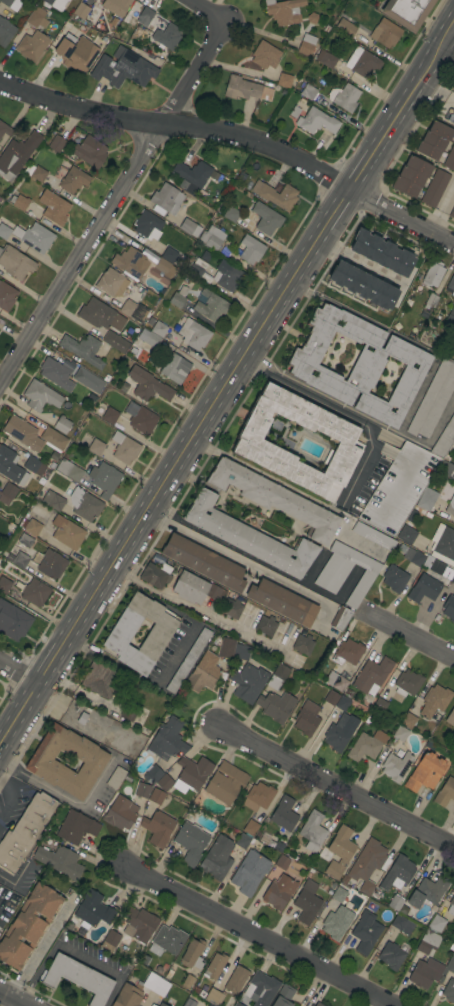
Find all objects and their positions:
building: (11, 4)
building: (54, 4)
building: (116, 6)
road: (215, 10)
building: (284, 11)
building: (79, 12)
building: (407, 12)
building: (145, 15)
building: (37, 18)
building: (312, 18)
building: (113, 21)
road: (453, 26)
building: (345, 27)
building: (70, 30)
building: (5, 31)
building: (385, 33)
building: (167, 35)
building: (306, 44)
building: (32, 45)
building: (76, 53)
building: (265, 55)
building: (325, 58)
building: (362, 62)
building: (123, 68)
building: (284, 80)
building: (245, 89)
building: (308, 91)
road: (435, 92)
building: (453, 92)
building: (346, 97)
building: (321, 101)
building: (294, 111)
building: (451, 117)
building: (317, 121)
building: (5, 129)
road: (237, 132)
building: (434, 140)
building: (56, 143)
building: (89, 151)
building: (17, 154)
building: (450, 159)
building: (35, 172)
building: (59, 173)
building: (192, 175)
building: (411, 176)
building: (73, 180)
building: (182, 184)
building: (435, 188)
building: (276, 195)
building: (212, 198)
building: (166, 199)
road: (117, 201)
building: (19, 202)
building: (53, 207)
road: (442, 210)
building: (451, 213)
building: (231, 214)
building: (266, 218)
building: (147, 225)
building: (189, 227)
building: (5, 228)
building: (34, 237)
building: (212, 238)
building: (250, 249)
building: (224, 252)
building: (382, 252)
building: (204, 255)
building: (151, 257)
building: (177, 261)
building: (15, 262)
building: (130, 262)
building: (164, 266)
building: (202, 271)
building: (433, 273)
building: (229, 275)
building: (111, 282)
building: (363, 285)
building: (450, 285)
building: (6, 296)
building: (178, 297)
building: (431, 300)
building: (116, 302)
building: (210, 305)
building: (133, 310)
building: (100, 315)
building: (449, 319)
building: (158, 328)
building: (193, 334)
building: (149, 338)
building: (115, 341)
building: (83, 349)
building: (452, 355)
building: (67, 364)
building: (359, 364)
building: (175, 368)
building: (55, 374)
building: (105, 377)
building: (88, 380)
building: (148, 385)
road: (225, 386)
building: (124, 388)
building: (40, 396)
building: (92, 397)
building: (433, 399)
road: (344, 411)
building: (110, 415)
building: (140, 418)
building: (34, 422)
building: (61, 425)
building: (22, 433)
building: (53, 439)
building: (444, 440)
building: (252, 443)
building: (96, 447)
building: (124, 448)
building: (46, 450)
building: (9, 465)
building: (34, 465)
building: (445, 468)
building: (69, 470)
building: (104, 479)
building: (7, 493)
building: (274, 498)
building: (427, 499)
building: (53, 500)
building: (83, 504)
building: (450, 506)
building: (33, 527)
building: (67, 533)
building: (407, 534)
building: (373, 536)
building: (248, 537)
building: (25, 540)
building: (443, 544)
road: (243, 553)
building: (414, 557)
building: (20, 560)
building: (204, 562)
building: (49, 563)
building: (437, 567)
building: (346, 571)
building: (156, 574)
building: (394, 578)
building: (452, 580)
building: (4, 584)
building: (196, 588)
building: (424, 588)
building: (33, 592)
building: (282, 602)
building: (449, 607)
building: (232, 608)
road: (200, 615)
building: (340, 618)
building: (13, 621)
building: (266, 625)
building: (120, 633)
road: (409, 638)
building: (303, 644)
building: (226, 648)
building: (241, 652)
building: (347, 652)
building: (188, 659)
building: (203, 673)
road: (18, 674)
building: (372, 675)
building: (277, 676)
road: (140, 680)
building: (335, 681)
building: (99, 682)
building: (248, 682)
building: (407, 683)
building: (331, 696)
building: (434, 700)
building: (342, 703)
building: (453, 703)
building: (276, 705)
building: (380, 705)
building: (129, 710)
building: (450, 717)
building: (81, 718)
building: (307, 718)
building: (408, 720)
building: (339, 731)
building: (400, 734)
building: (167, 739)
building: (365, 746)
building: (43, 765)
building: (396, 766)
building: (425, 772)
building: (152, 773)
building: (191, 773)
building: (453, 776)
building: (115, 778)
building: (164, 782)
building: (225, 782)
road: (337, 788)
building: (142, 790)
building: (445, 792)
building: (156, 796)
building: (258, 796)
road: (11, 797)
building: (120, 813)
building: (284, 813)
building: (76, 827)
building: (250, 827)
building: (158, 828)
building: (312, 830)
building: (25, 831)
building: (242, 840)
building: (190, 841)
building: (339, 851)
building: (217, 857)
building: (59, 861)
building: (282, 862)
building: (367, 864)
building: (249, 872)
building: (397, 873)
building: (279, 891)
building: (427, 891)
building: (338, 894)
building: (307, 902)
building: (395, 903)
building: (451, 906)
building: (93, 910)
building: (337, 922)
building: (139, 924)
building: (402, 924)
building: (438, 924)
building: (453, 924)
building: (28, 925)
building: (365, 932)
road: (259, 936)
building: (169, 939)
building: (110, 940)
building: (428, 942)
road: (38, 949)
building: (192, 954)
building: (391, 955)
building: (144, 959)
building: (450, 965)
building: (214, 966)
building: (157, 969)
building: (425, 972)
building: (77, 977)
building: (236, 979)
building: (187, 981)
building: (155, 984)
building: (262, 988)
building: (449, 990)
building: (128, 995)
building: (214, 996)
building: (283, 996)
road: (16, 997)
building: (190, 1001)
building: (161, 1004)
building: (208, 1004)
building: (237, 1004)
building: (318, 1004)
building: (152, 1005)
building: (312, 1005)
building: (327, 1005)

